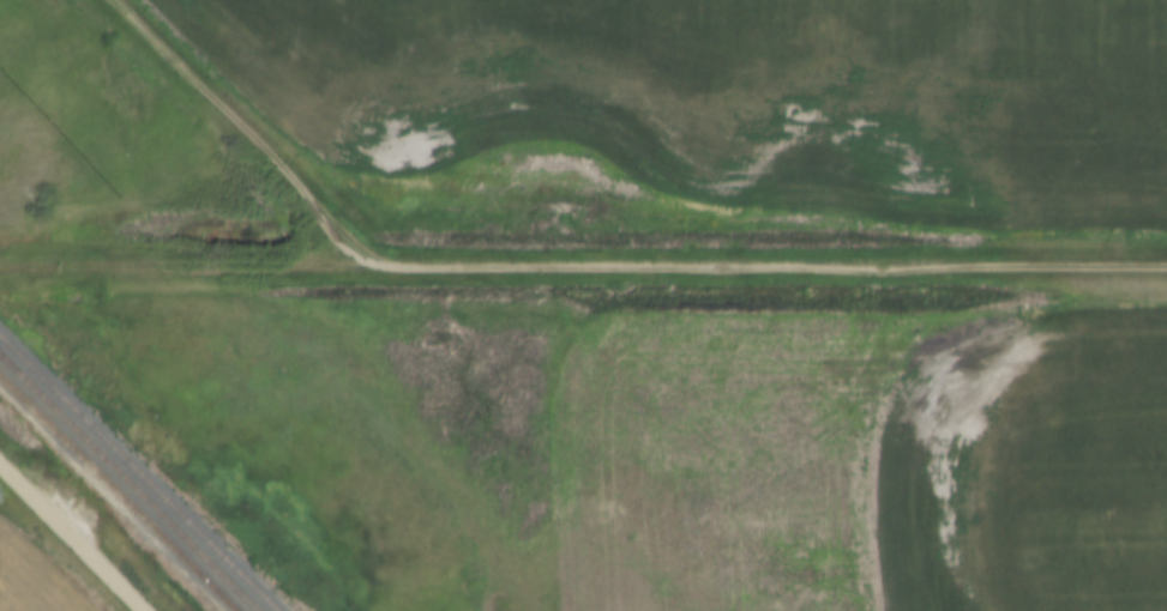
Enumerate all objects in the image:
road: (240, 131)
road: (187, 262)
road: (770, 273)
railway: (139, 472)
railway: (128, 483)
railway: (119, 492)
road: (67, 540)

